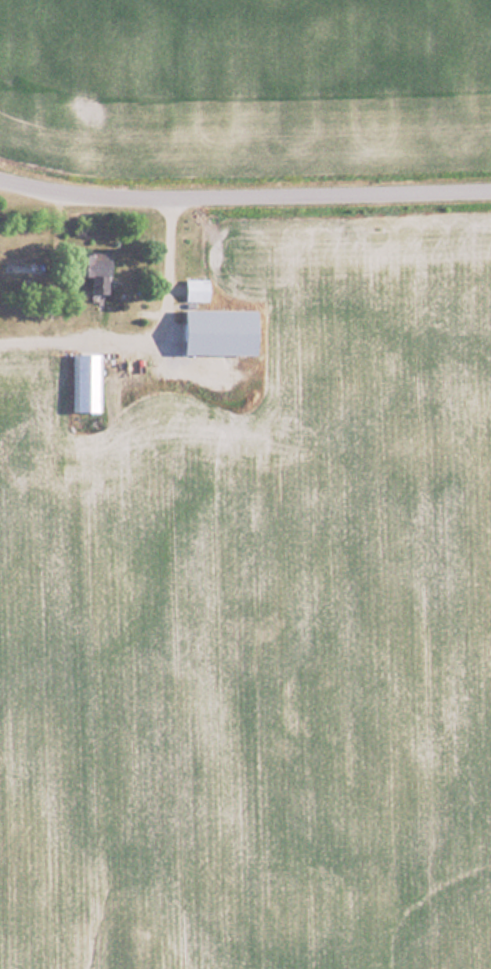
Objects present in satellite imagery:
road: (244, 199)
building: (101, 273)
building: (199, 289)
building: (228, 332)
building: (88, 381)

